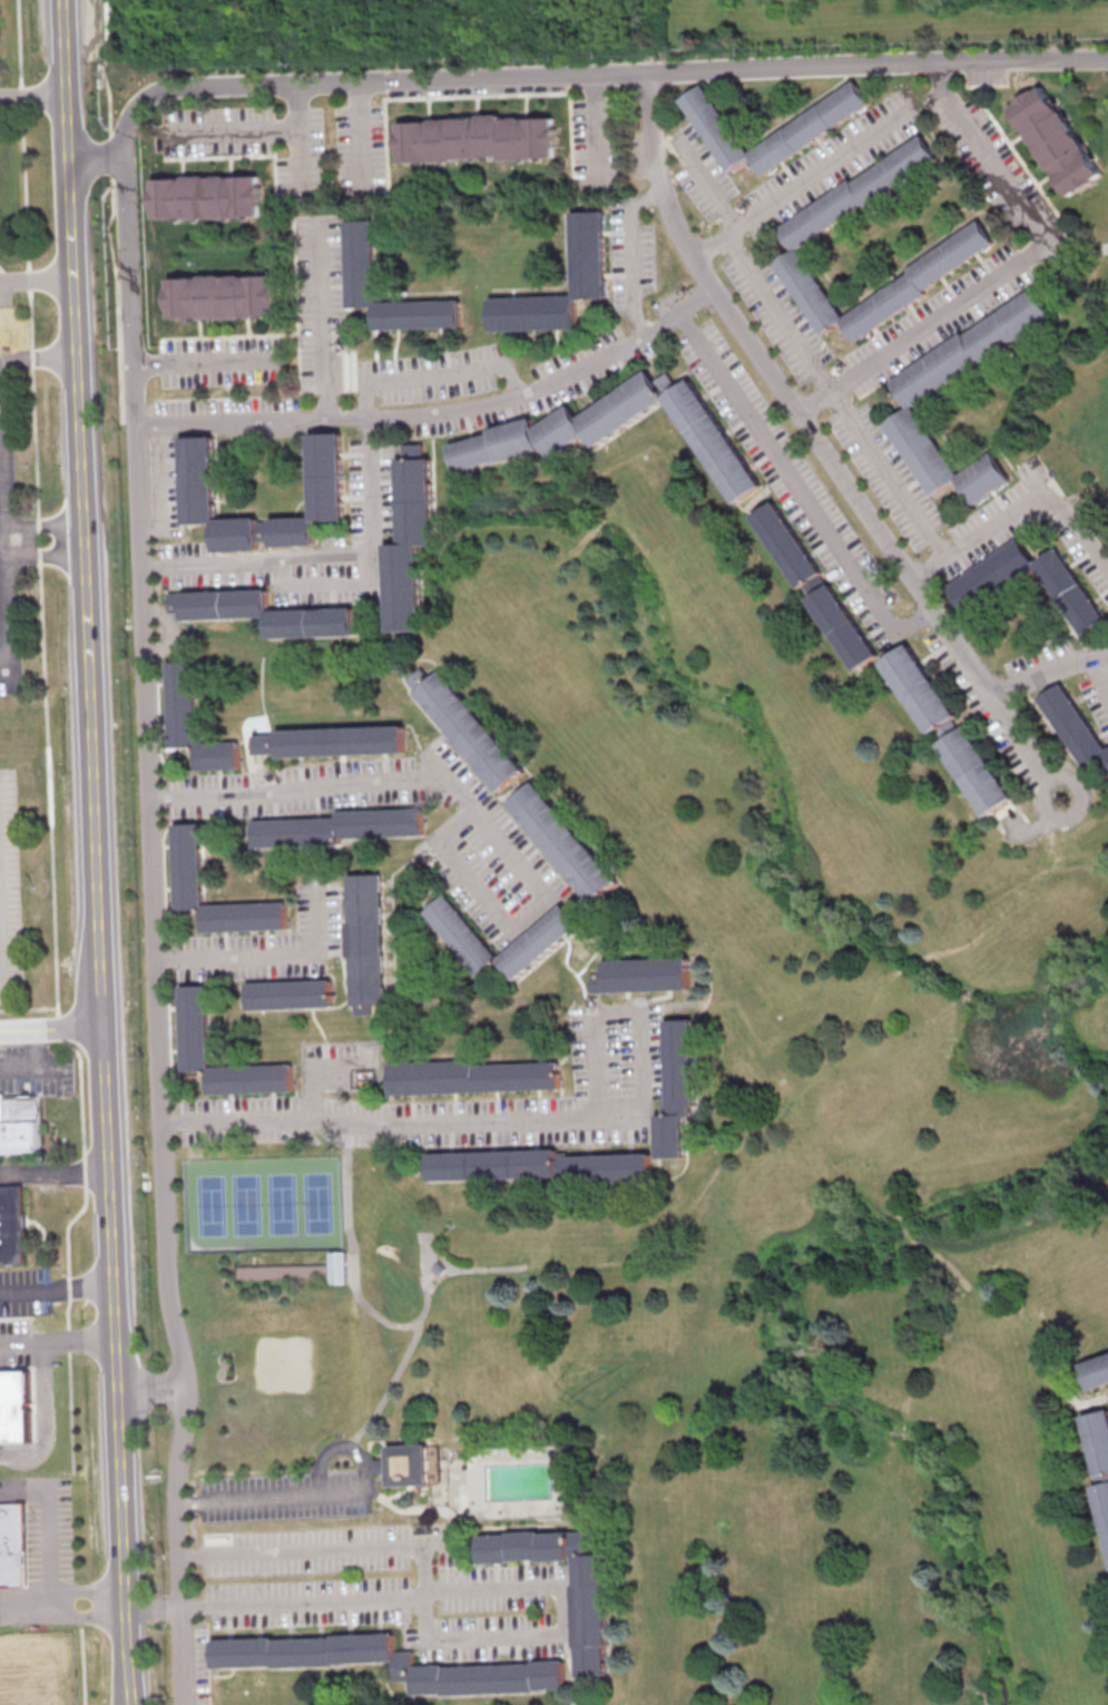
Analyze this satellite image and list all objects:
park: (560, 29)
road: (32, 94)
building: (810, 127)
road: (602, 134)
road: (234, 135)
building: (478, 138)
building: (1057, 140)
road: (364, 141)
road: (304, 144)
road: (990, 158)
road: (97, 159)
road: (805, 183)
road: (712, 185)
building: (208, 196)
road: (115, 209)
building: (800, 234)
building: (588, 253)
road: (634, 255)
road: (1036, 256)
building: (360, 259)
road: (41, 277)
road: (6, 280)
parking lot: (6, 288)
building: (223, 295)
road: (781, 314)
road: (326, 322)
road: (910, 341)
road: (19, 342)
road: (37, 356)
road: (215, 369)
road: (439, 380)
building: (916, 398)
road: (444, 418)
road: (138, 420)
building: (522, 439)
road: (826, 453)
building: (197, 477)
road: (891, 478)
road: (163, 482)
road: (804, 493)
road: (81, 511)
road: (41, 522)
road: (1079, 533)
road: (1, 539)
building: (410, 539)
road: (983, 539)
road: (41, 556)
parking lot: (8, 561)
road: (330, 561)
road: (4, 578)
building: (814, 582)
road: (333, 586)
building: (1075, 598)
building: (264, 613)
road: (1049, 675)
road: (1102, 675)
building: (923, 692)
building: (194, 721)
building: (468, 727)
building: (1076, 728)
building: (342, 741)
building: (265, 743)
road: (48, 762)
building: (977, 771)
road: (388, 785)
building: (339, 826)
building: (563, 841)
building: (188, 862)
road: (479, 889)
parking lot: (9, 895)
road: (1026, 896)
building: (541, 941)
building: (367, 942)
road: (274, 961)
road: (0, 968)
road: (918, 968)
building: (641, 974)
building: (291, 993)
road: (619, 1020)
building: (194, 1025)
road: (50, 1026)
road: (37, 1064)
road: (315, 1070)
building: (473, 1076)
building: (676, 1087)
building: (18, 1123)
road: (404, 1126)
building: (540, 1165)
road: (845, 1168)
road: (53, 1176)
park: (267, 1204)
building: (11, 1224)
road: (906, 1232)
road: (570, 1261)
building: (344, 1272)
building: (442, 1272)
building: (288, 1275)
road: (359, 1290)
road: (56, 1291)
parking lot: (23, 1292)
road: (679, 1303)
road: (959, 1323)
road: (77, 1340)
parking lot: (13, 1342)
road: (21, 1342)
road: (114, 1364)
park: (287, 1369)
road: (388, 1386)
road: (151, 1393)
building: (14, 1407)
road: (43, 1417)
road: (899, 1434)
building: (1097, 1439)
building: (381, 1466)
building: (411, 1469)
road: (336, 1499)
parking lot: (291, 1501)
building: (1102, 1506)
road: (42, 1525)
building: (13, 1544)
road: (308, 1554)
parking lot: (45, 1557)
road: (886, 1572)
road: (82, 1590)
road: (23, 1603)
road: (343, 1604)
road: (82, 1615)
building: (589, 1618)
road: (473, 1643)
road: (81, 1659)
building: (269, 1663)
road: (570, 1672)

